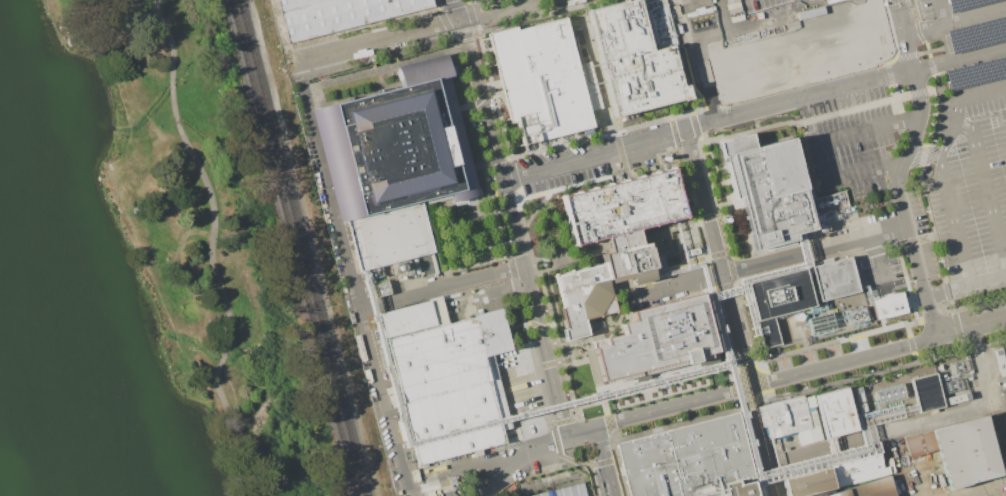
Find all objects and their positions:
building: (832, 1)
building: (294, 4)
road: (455, 9)
building: (809, 12)
road: (939, 12)
building: (341, 15)
road: (954, 21)
road: (438, 24)
rooftop solar panel: (980, 32)
road: (711, 42)
building: (809, 49)
building: (639, 54)
road: (319, 55)
rooftop solar panel: (429, 63)
rooftop solar panel: (986, 71)
building: (540, 80)
road: (754, 115)
road: (871, 127)
rooftop solar panel: (461, 139)
building: (385, 149)
road: (901, 157)
road: (945, 168)
road: (900, 169)
rooftop solar panel: (339, 173)
building: (731, 175)
rooftop solar panel: (404, 183)
building: (772, 193)
road: (990, 202)
building: (622, 206)
road: (513, 225)
building: (390, 236)
railway: (301, 247)
road: (210, 248)
railway: (283, 248)
railway: (292, 248)
building: (629, 258)
road: (718, 260)
road: (773, 260)
road: (878, 265)
park: (137, 267)
building: (834, 278)
road: (486, 279)
road: (988, 280)
building: (377, 289)
road: (948, 291)
building: (584, 298)
building: (780, 299)
building: (886, 305)
building: (812, 311)
building: (858, 315)
building: (407, 319)
building: (822, 323)
road: (970, 328)
building: (658, 338)
building: (1000, 361)
building: (449, 384)
road: (738, 390)
building: (925, 392)
building: (891, 393)
building: (955, 398)
building: (860, 399)
building: (836, 412)
road: (975, 413)
building: (785, 417)
building: (966, 452)
building: (691, 461)
road: (574, 464)
building: (856, 470)
building: (873, 488)
road: (774, 490)
building: (563, 491)
building: (839, 493)

